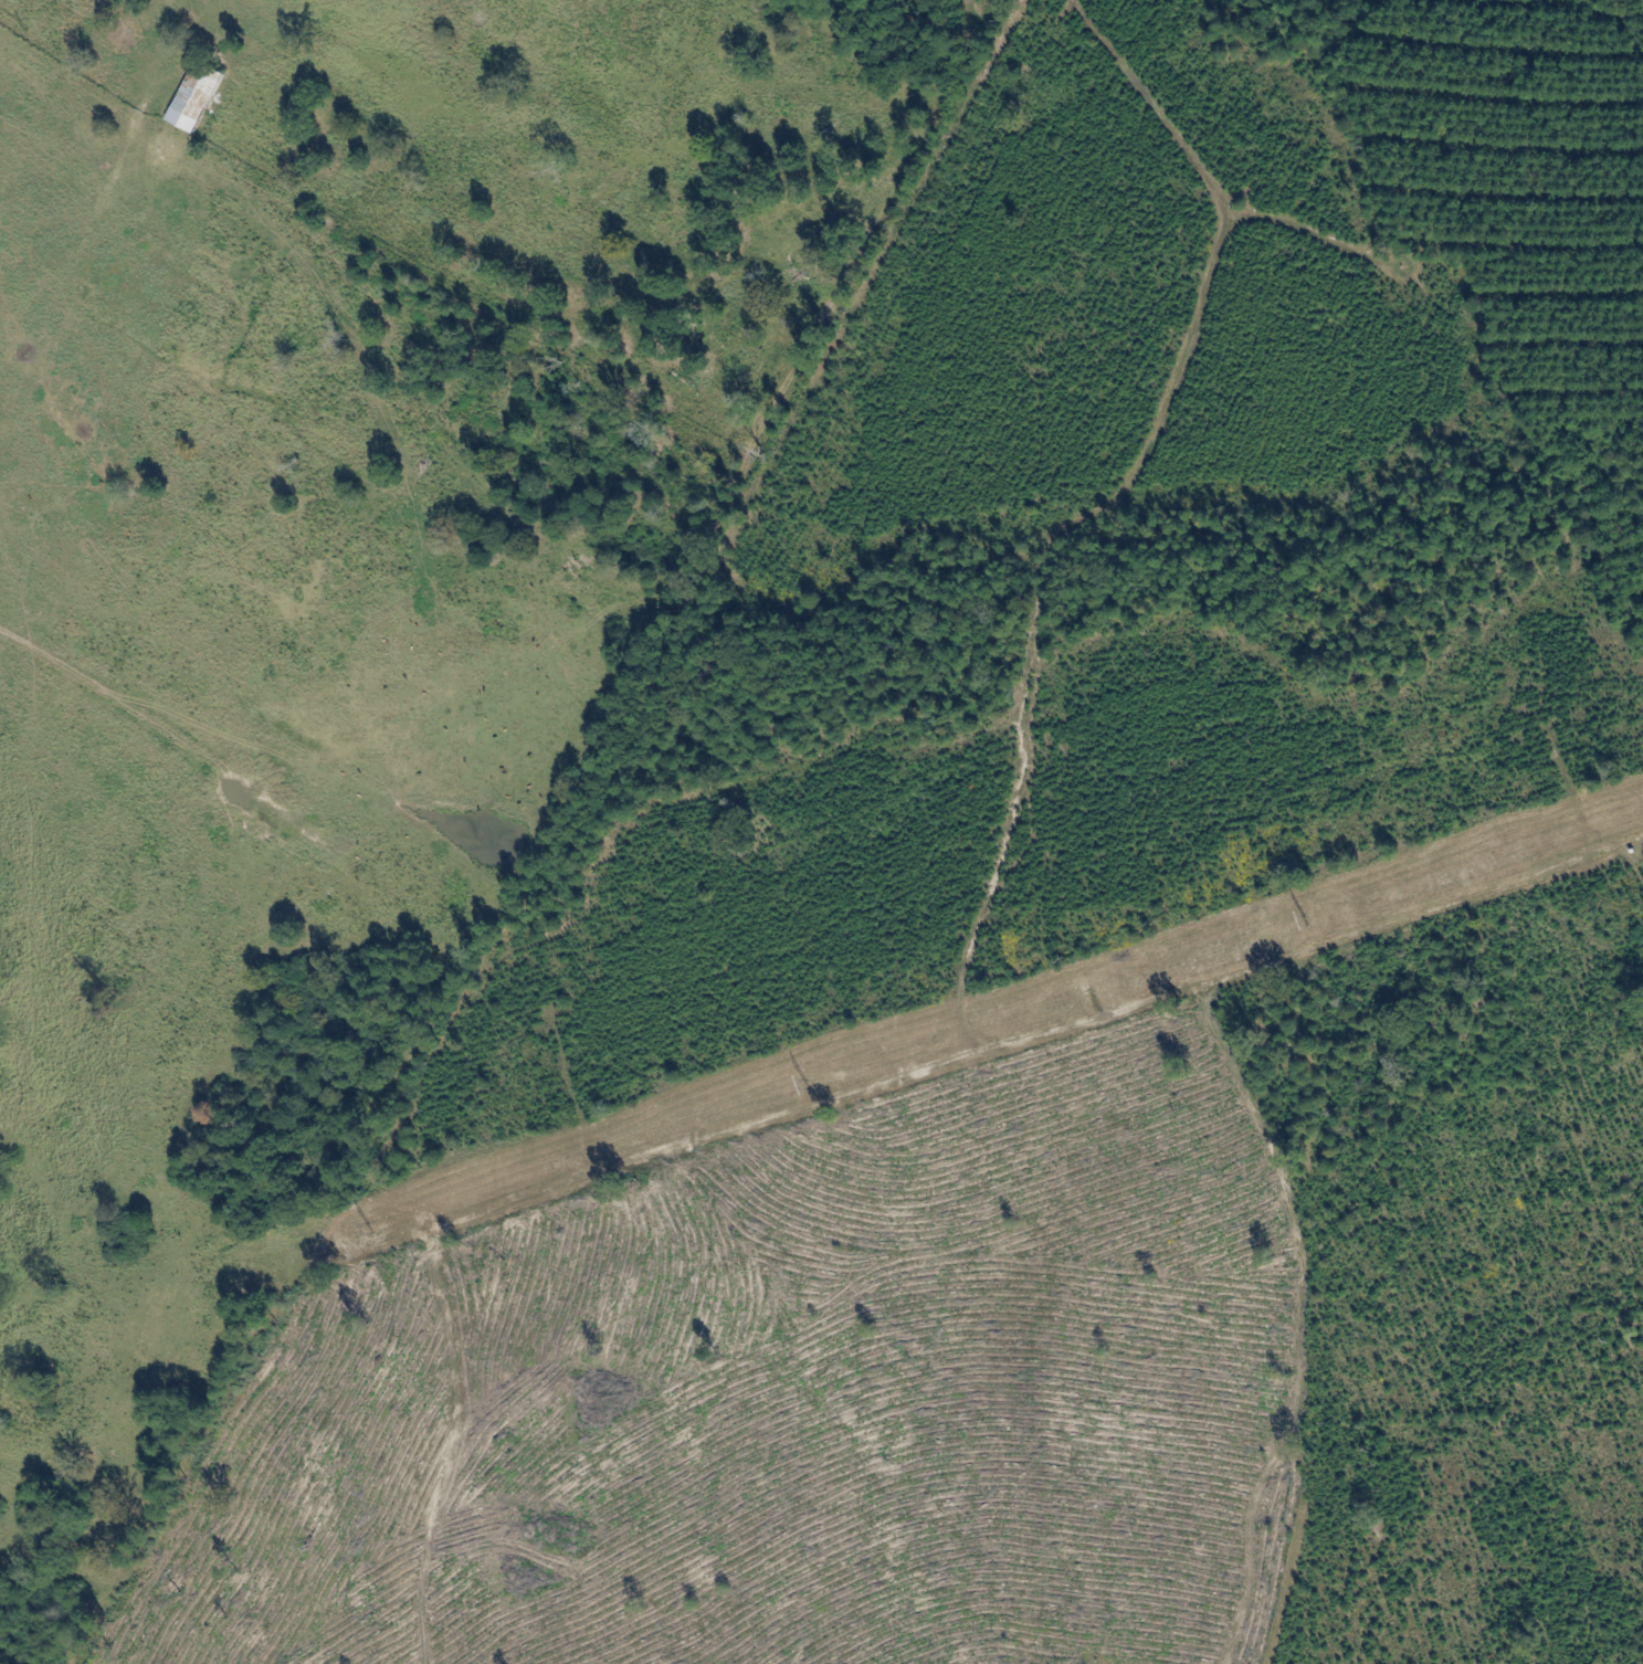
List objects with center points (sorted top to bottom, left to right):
road: (70, 388)
road: (253, 809)
power tower: (1299, 917)
power tower: (802, 1084)
power tower: (364, 1226)

